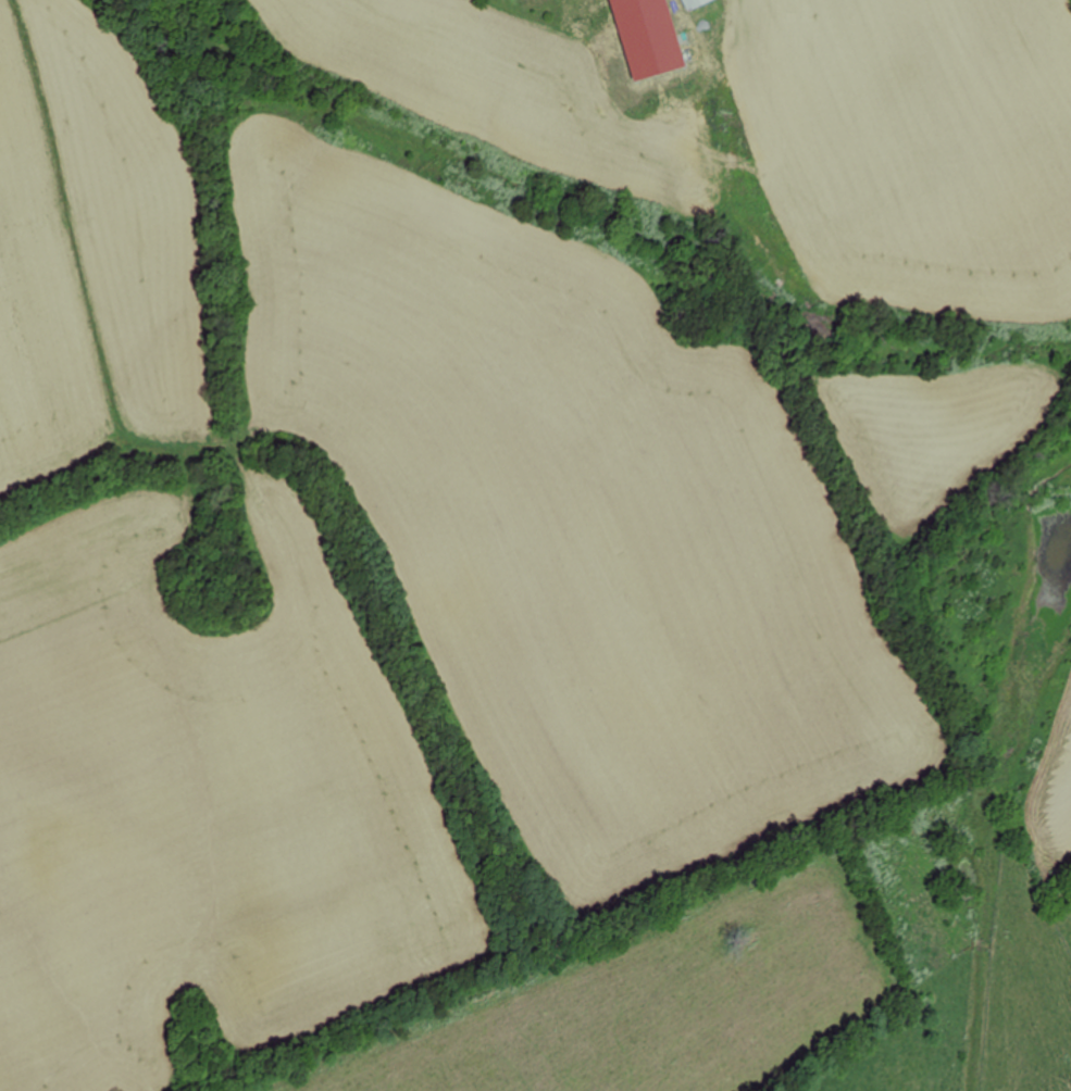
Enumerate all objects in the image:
building: (695, 4)

